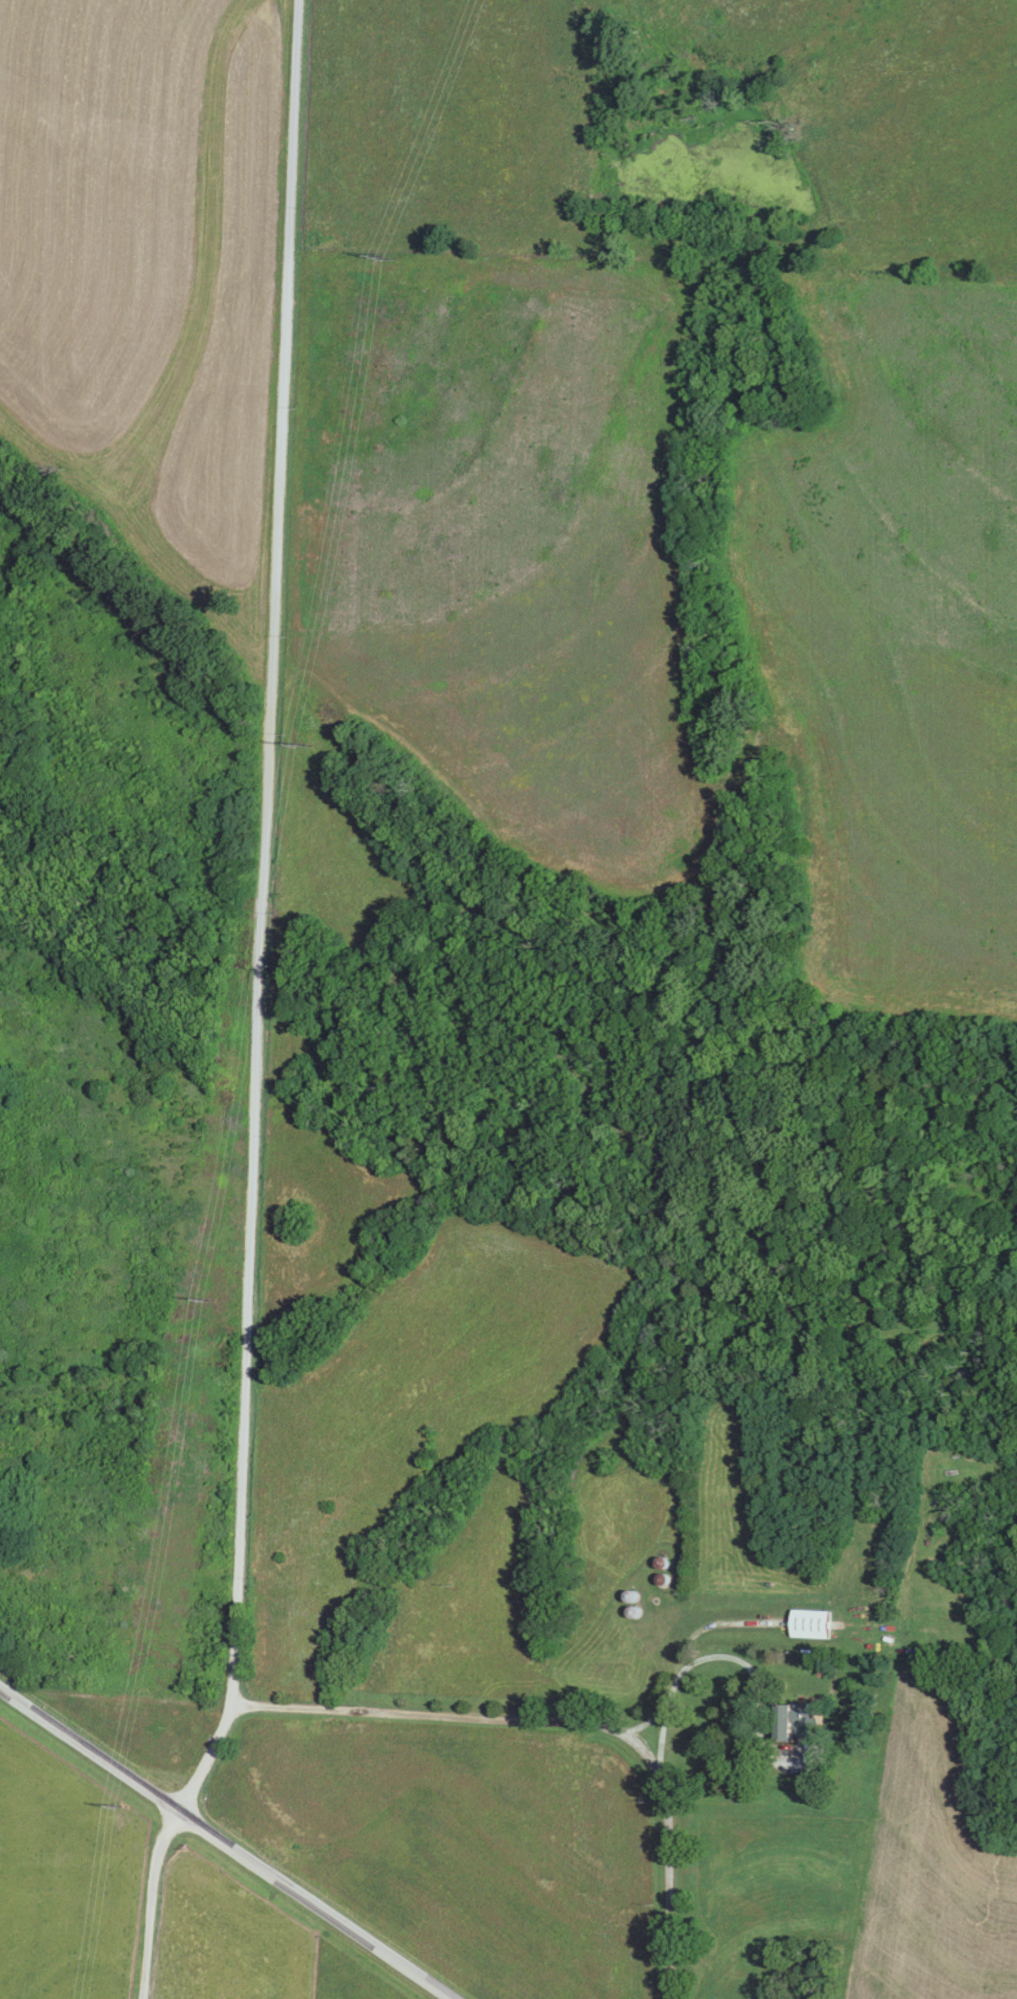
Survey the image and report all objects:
road: (262, 912)
road: (688, 1665)
road: (453, 1717)
building: (787, 1722)
road: (226, 1844)

